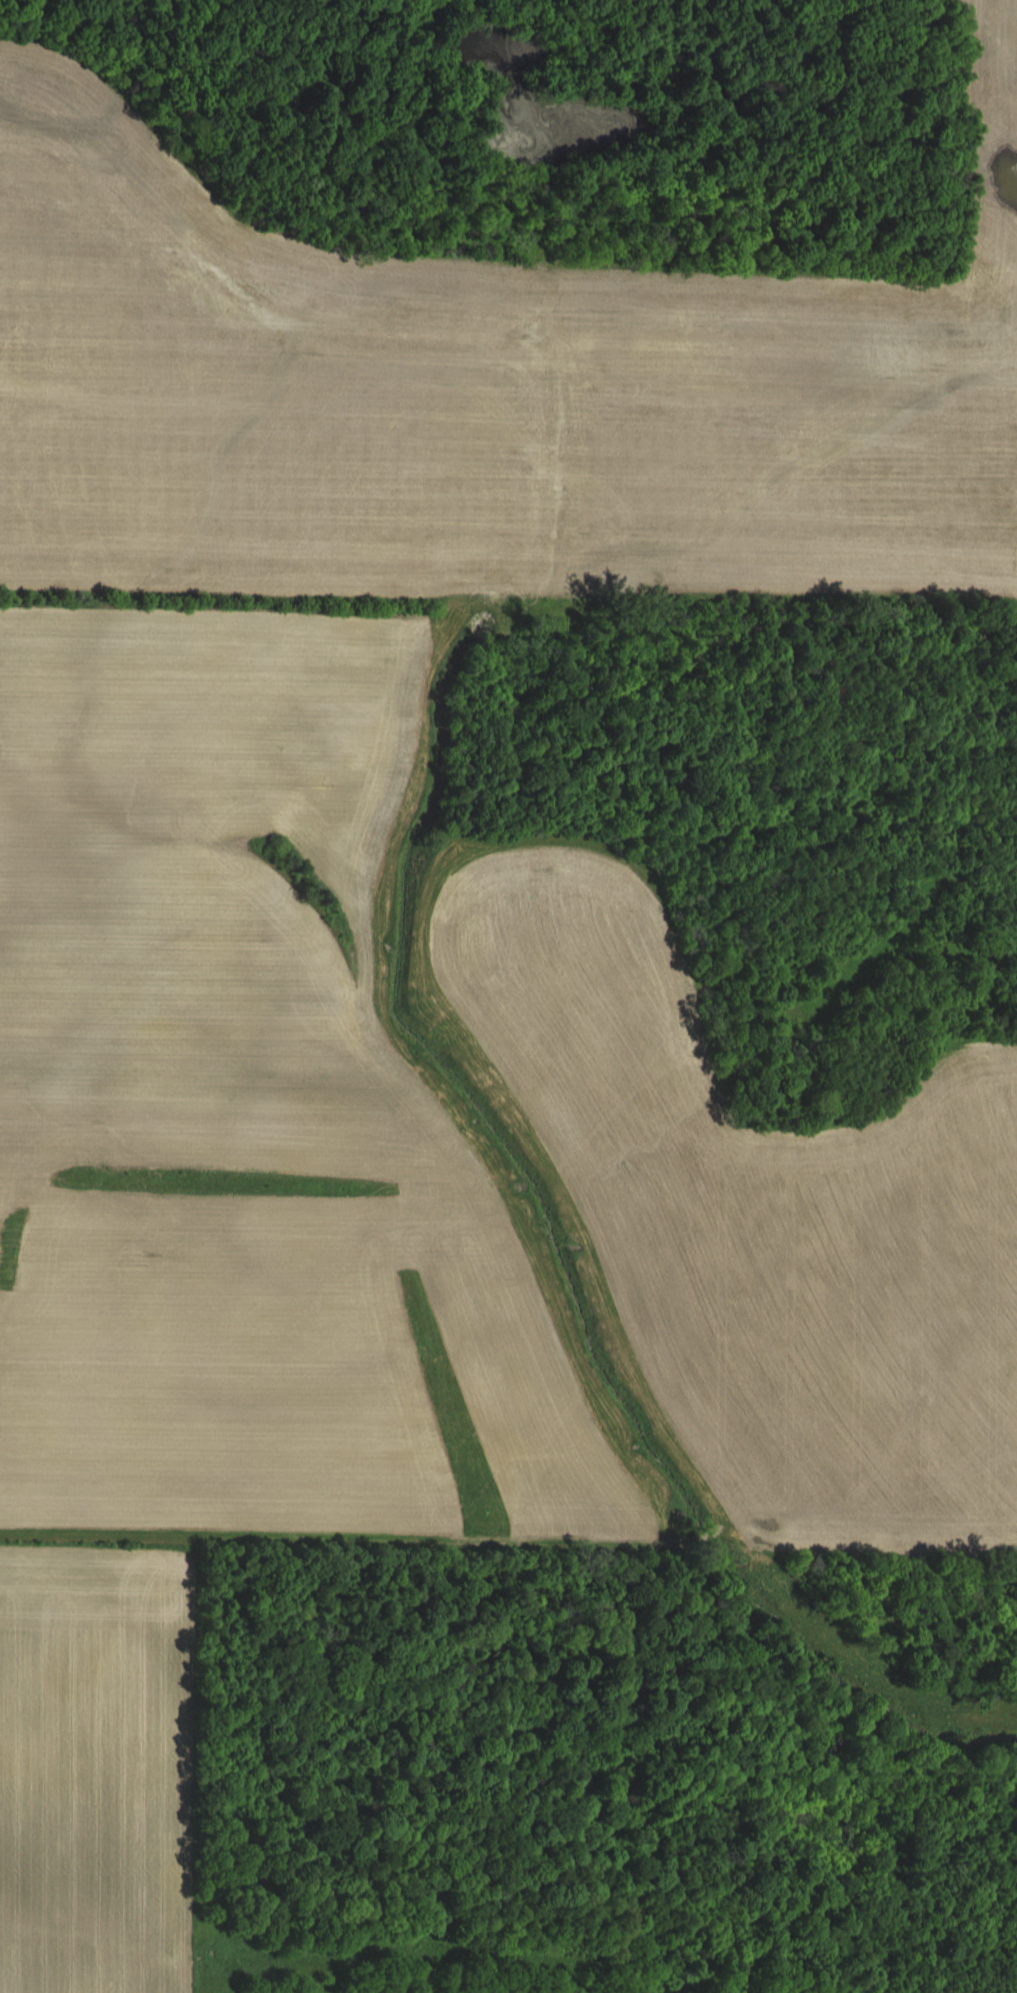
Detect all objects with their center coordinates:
crop: (508, 996)

